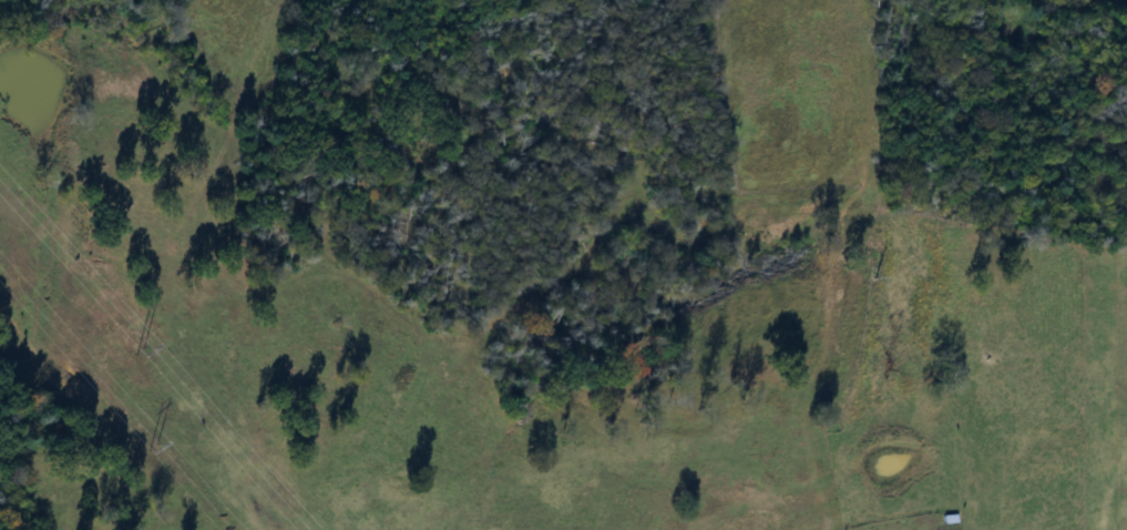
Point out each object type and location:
power tower: (115, 348)
power tower: (139, 446)

